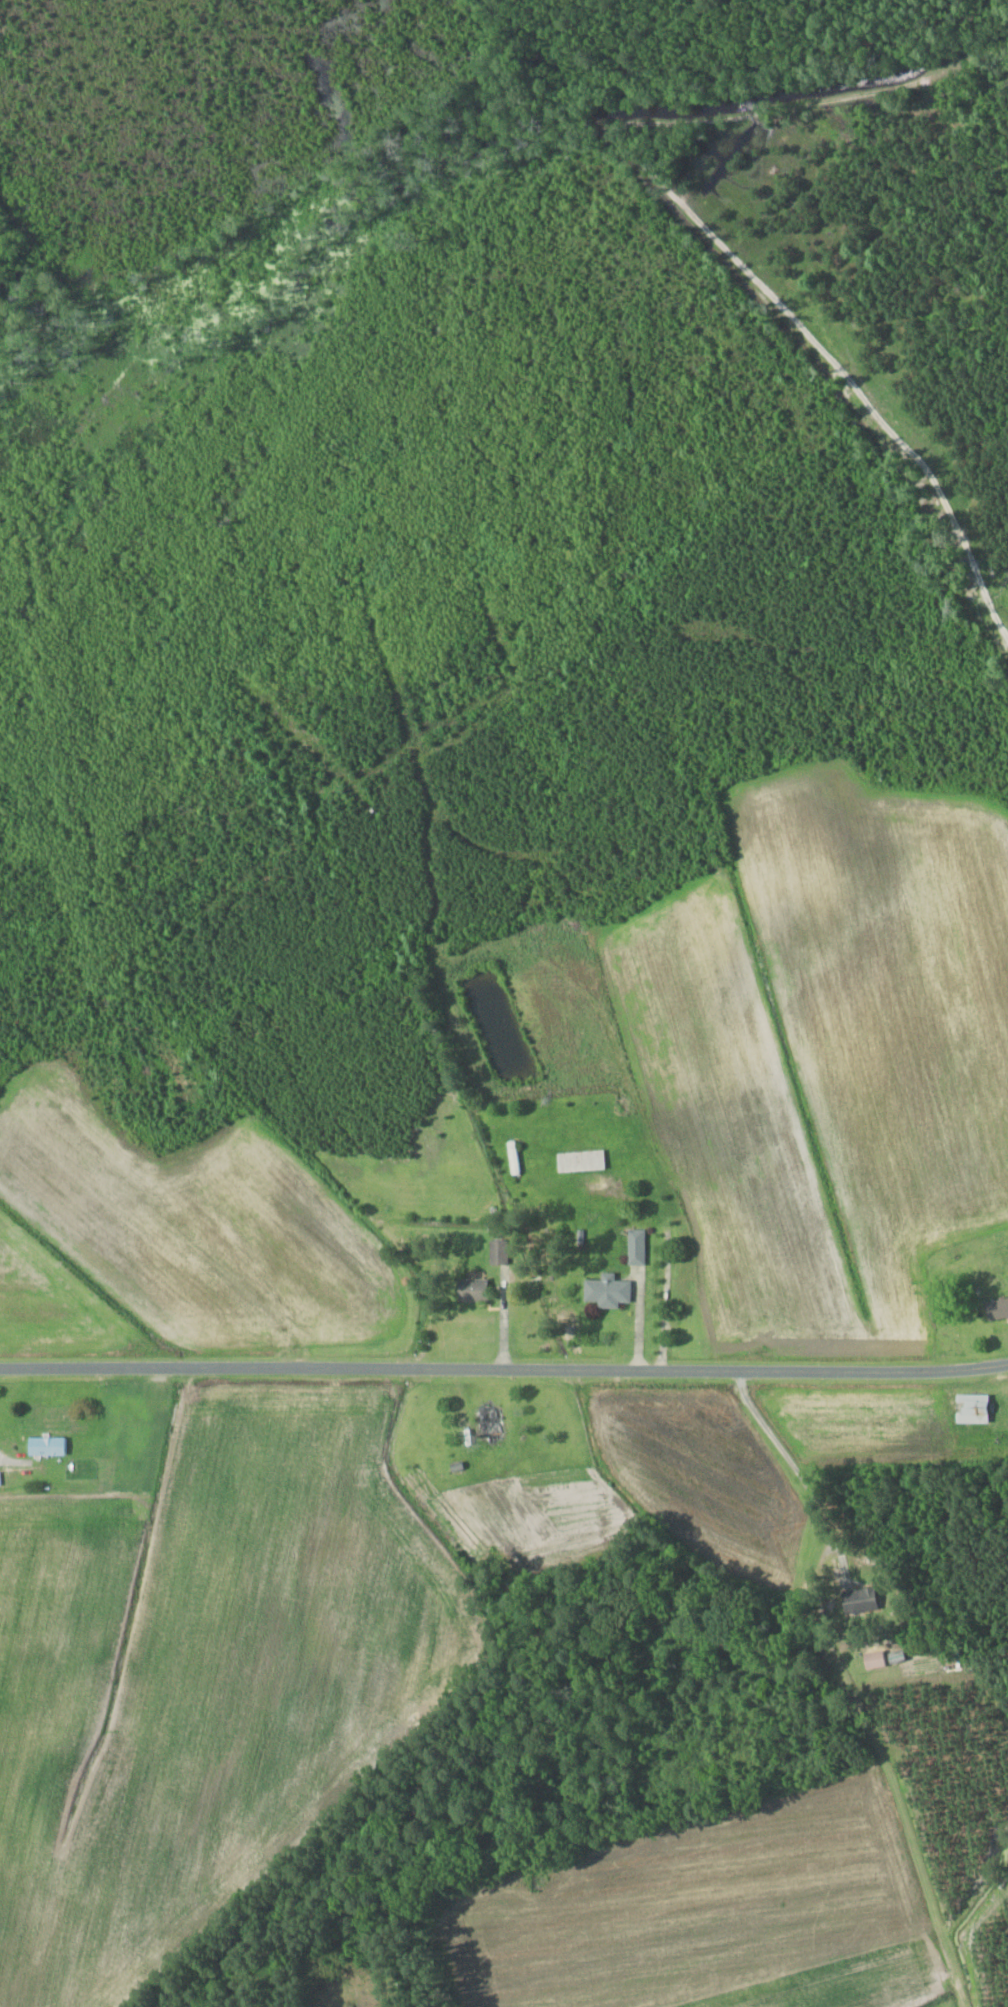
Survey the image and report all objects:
building: (512, 1157)
building: (579, 1160)
building: (635, 1247)
building: (497, 1252)
building: (471, 1289)
building: (606, 1291)
building: (995, 1308)
road: (504, 1368)
building: (970, 1408)
building: (487, 1420)
building: (46, 1446)
building: (454, 1461)
building: (858, 1600)
building: (895, 1656)
building: (873, 1659)

